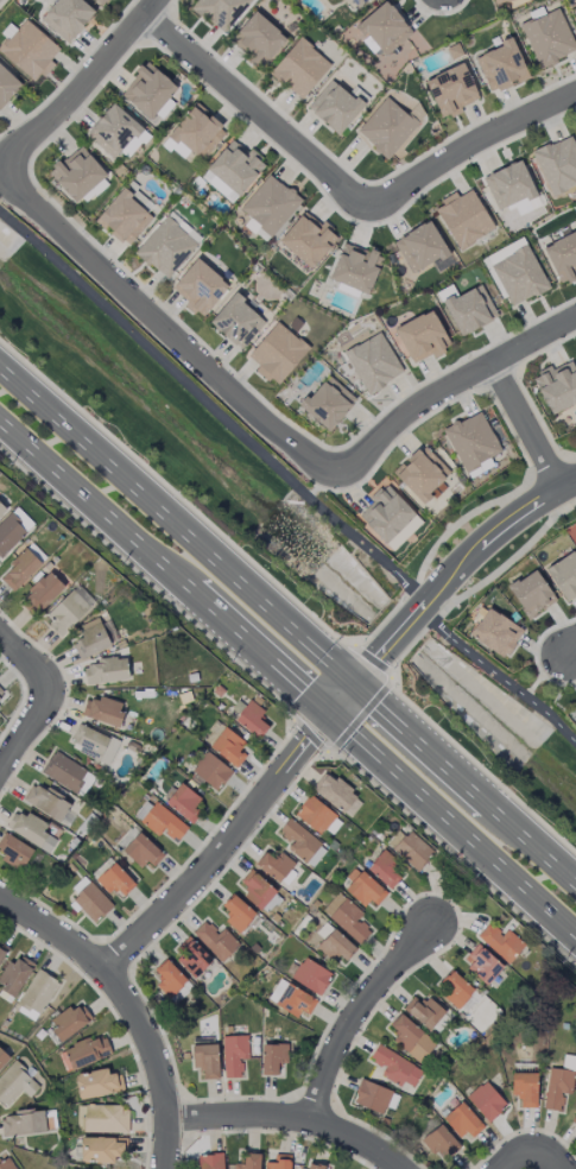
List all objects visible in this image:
building: (100, 1)
building: (499, 1)
building: (359, 2)
building: (220, 11)
building: (574, 12)
building: (67, 18)
building: (385, 29)
building: (549, 38)
building: (258, 40)
building: (30, 51)
building: (501, 67)
building: (299, 69)
building: (7, 86)
road: (78, 87)
building: (148, 90)
building: (451, 90)
building: (336, 106)
road: (258, 112)
building: (386, 128)
building: (113, 131)
building: (194, 133)
road: (471, 144)
building: (557, 165)
building: (235, 166)
building: (76, 173)
building: (509, 185)
building: (217, 187)
park: (0, 203)
building: (270, 204)
building: (125, 216)
building: (463, 219)
building: (184, 227)
building: (257, 230)
building: (308, 239)
building: (165, 247)
building: (420, 247)
building: (563, 257)
building: (355, 268)
building: (519, 277)
building: (200, 287)
building: (470, 310)
building: (236, 322)
road: (165, 329)
building: (422, 337)
building: (277, 353)
building: (373, 362)
road: (449, 386)
building: (557, 386)
building: (328, 403)
road: (525, 426)
park: (184, 434)
building: (471, 441)
park: (566, 443)
building: (423, 475)
road: (287, 480)
road: (167, 488)
building: (1, 511)
building: (385, 514)
park: (463, 522)
road: (177, 526)
building: (10, 533)
road: (164, 568)
building: (19, 570)
road: (455, 570)
building: (564, 576)
road: (141, 577)
building: (42, 594)
building: (531, 594)
building: (69, 611)
building: (495, 633)
building: (90, 639)
road: (335, 640)
road: (571, 652)
road: (372, 661)
building: (106, 671)
road: (543, 675)
traffic signals: (356, 683)
park: (502, 690)
building: (1, 695)
road: (398, 697)
road: (24, 699)
road: (342, 699)
road: (42, 701)
road: (65, 702)
road: (285, 703)
building: (103, 710)
building: (575, 713)
traffic signals: (328, 715)
road: (360, 718)
building: (251, 720)
road: (309, 738)
building: (94, 745)
building: (228, 747)
road: (312, 758)
building: (211, 771)
building: (68, 773)
road: (488, 776)
road: (466, 781)
building: (337, 795)
building: (46, 802)
building: (184, 803)
building: (315, 815)
building: (159, 820)
road: (451, 827)
building: (30, 830)
building: (127, 839)
road: (207, 841)
building: (299, 841)
road: (221, 848)
building: (412, 851)
building: (14, 852)
building: (143, 852)
road: (458, 860)
road: (229, 865)
building: (274, 866)
building: (385, 870)
building: (115, 880)
building: (362, 889)
building: (258, 890)
road: (444, 897)
building: (91, 903)
road: (45, 908)
building: (238, 914)
building: (347, 917)
building: (215, 941)
building: (501, 942)
road: (110, 943)
building: (333, 943)
building: (1, 952)
road: (116, 956)
building: (192, 958)
road: (87, 959)
building: (482, 965)
building: (14, 975)
building: (311, 977)
building: (169, 979)
road: (131, 985)
road: (114, 986)
building: (455, 990)
road: (116, 991)
building: (37, 996)
building: (291, 999)
road: (357, 1010)
building: (424, 1012)
road: (116, 1019)
building: (70, 1022)
road: (160, 1031)
building: (411, 1038)
building: (234, 1055)
building: (273, 1057)
building: (2, 1059)
building: (205, 1060)
building: (395, 1067)
building: (99, 1083)
building: (559, 1083)
building: (15, 1085)
building: (525, 1088)
road: (303, 1095)
building: (374, 1097)
road: (163, 1098)
road: (238, 1099)
road: (316, 1101)
building: (486, 1101)
road: (189, 1102)
road: (291, 1116)
road: (185, 1117)
road: (337, 1117)
building: (50, 1119)
building: (102, 1119)
building: (574, 1120)
building: (462, 1121)
building: (24, 1123)
road: (524, 1131)
road: (290, 1135)
road: (385, 1138)
building: (439, 1142)
road: (163, 1143)
road: (164, 1144)
road: (178, 1148)
building: (102, 1149)
road: (528, 1151)
road: (179, 1158)
building: (210, 1161)
building: (248, 1161)
building: (279, 1162)
building: (5, 1163)
building: (315, 1165)

